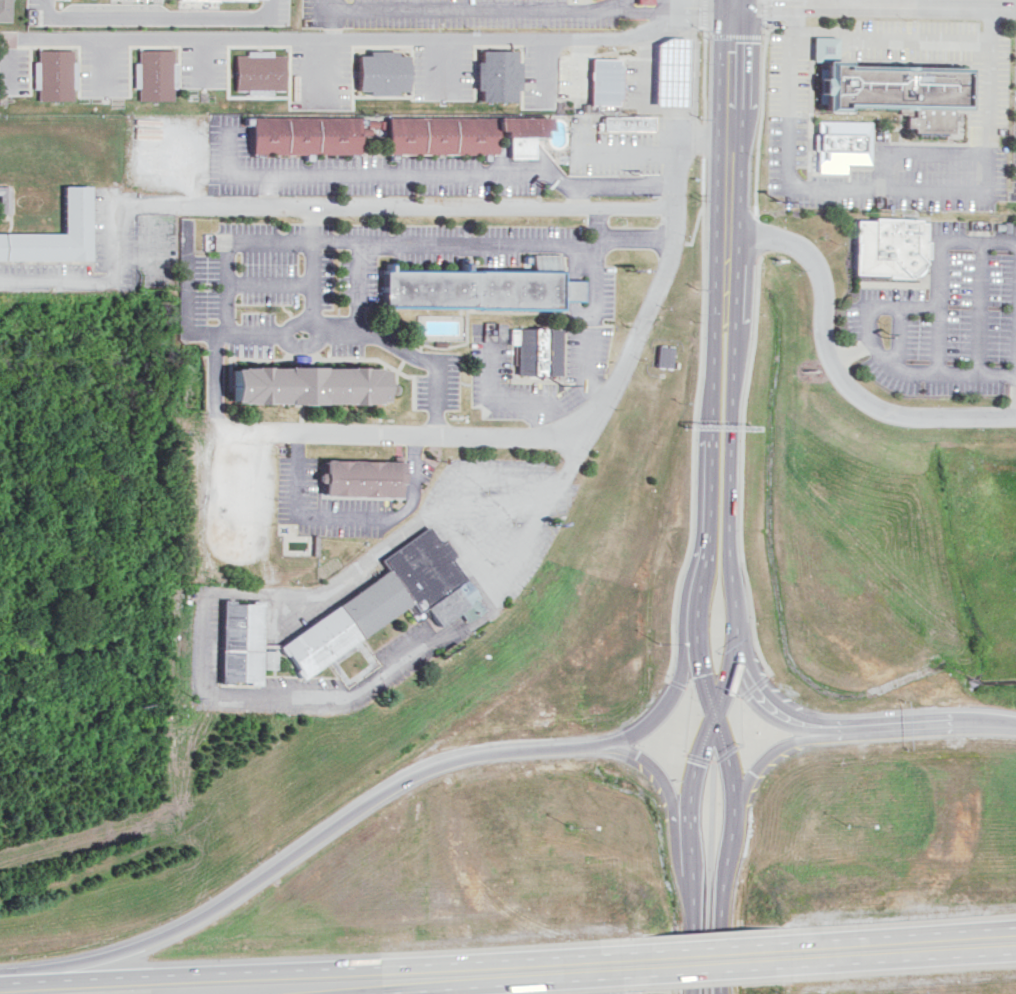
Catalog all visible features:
building: (642, 1)
road: (730, 2)
traffic signals: (730, 4)
road: (872, 4)
road: (681, 8)
building: (4, 10)
road: (499, 10)
road: (699, 14)
road: (157, 15)
road: (760, 15)
road: (729, 30)
road: (373, 38)
road: (891, 43)
building: (257, 71)
building: (378, 72)
building: (52, 74)
building: (154, 75)
building: (495, 75)
building: (657, 75)
gas station: (657, 75)
building: (600, 82)
building: (883, 90)
road: (727, 119)
building: (625, 126)
building: (385, 133)
building: (837, 145)
road: (916, 150)
road: (431, 176)
road: (891, 188)
building: (3, 198)
road: (396, 205)
building: (72, 215)
road: (688, 224)
road: (449, 244)
building: (883, 250)
road: (729, 256)
road: (718, 257)
road: (313, 269)
road: (936, 270)
road: (94, 276)
building: (463, 293)
road: (878, 306)
road: (978, 309)
road: (895, 339)
road: (751, 349)
road: (697, 353)
road: (846, 353)
building: (663, 356)
building: (535, 358)
road: (830, 364)
road: (934, 375)
building: (304, 388)
road: (212, 398)
road: (582, 422)
road: (730, 449)
road: (706, 452)
building: (359, 481)
building: (344, 616)
road: (204, 639)
road: (672, 678)
road: (750, 679)
road: (756, 688)
road: (665, 699)
traffic signals: (712, 714)
road: (736, 716)
road: (680, 717)
road: (914, 727)
road: (722, 748)
road: (693, 754)
road: (763, 763)
road: (657, 772)
road: (692, 803)
road: (730, 807)
road: (320, 836)
road: (707, 876)
road: (891, 927)
road: (709, 939)
road: (890, 955)
road: (325, 959)
road: (708, 968)
road: (492, 980)

